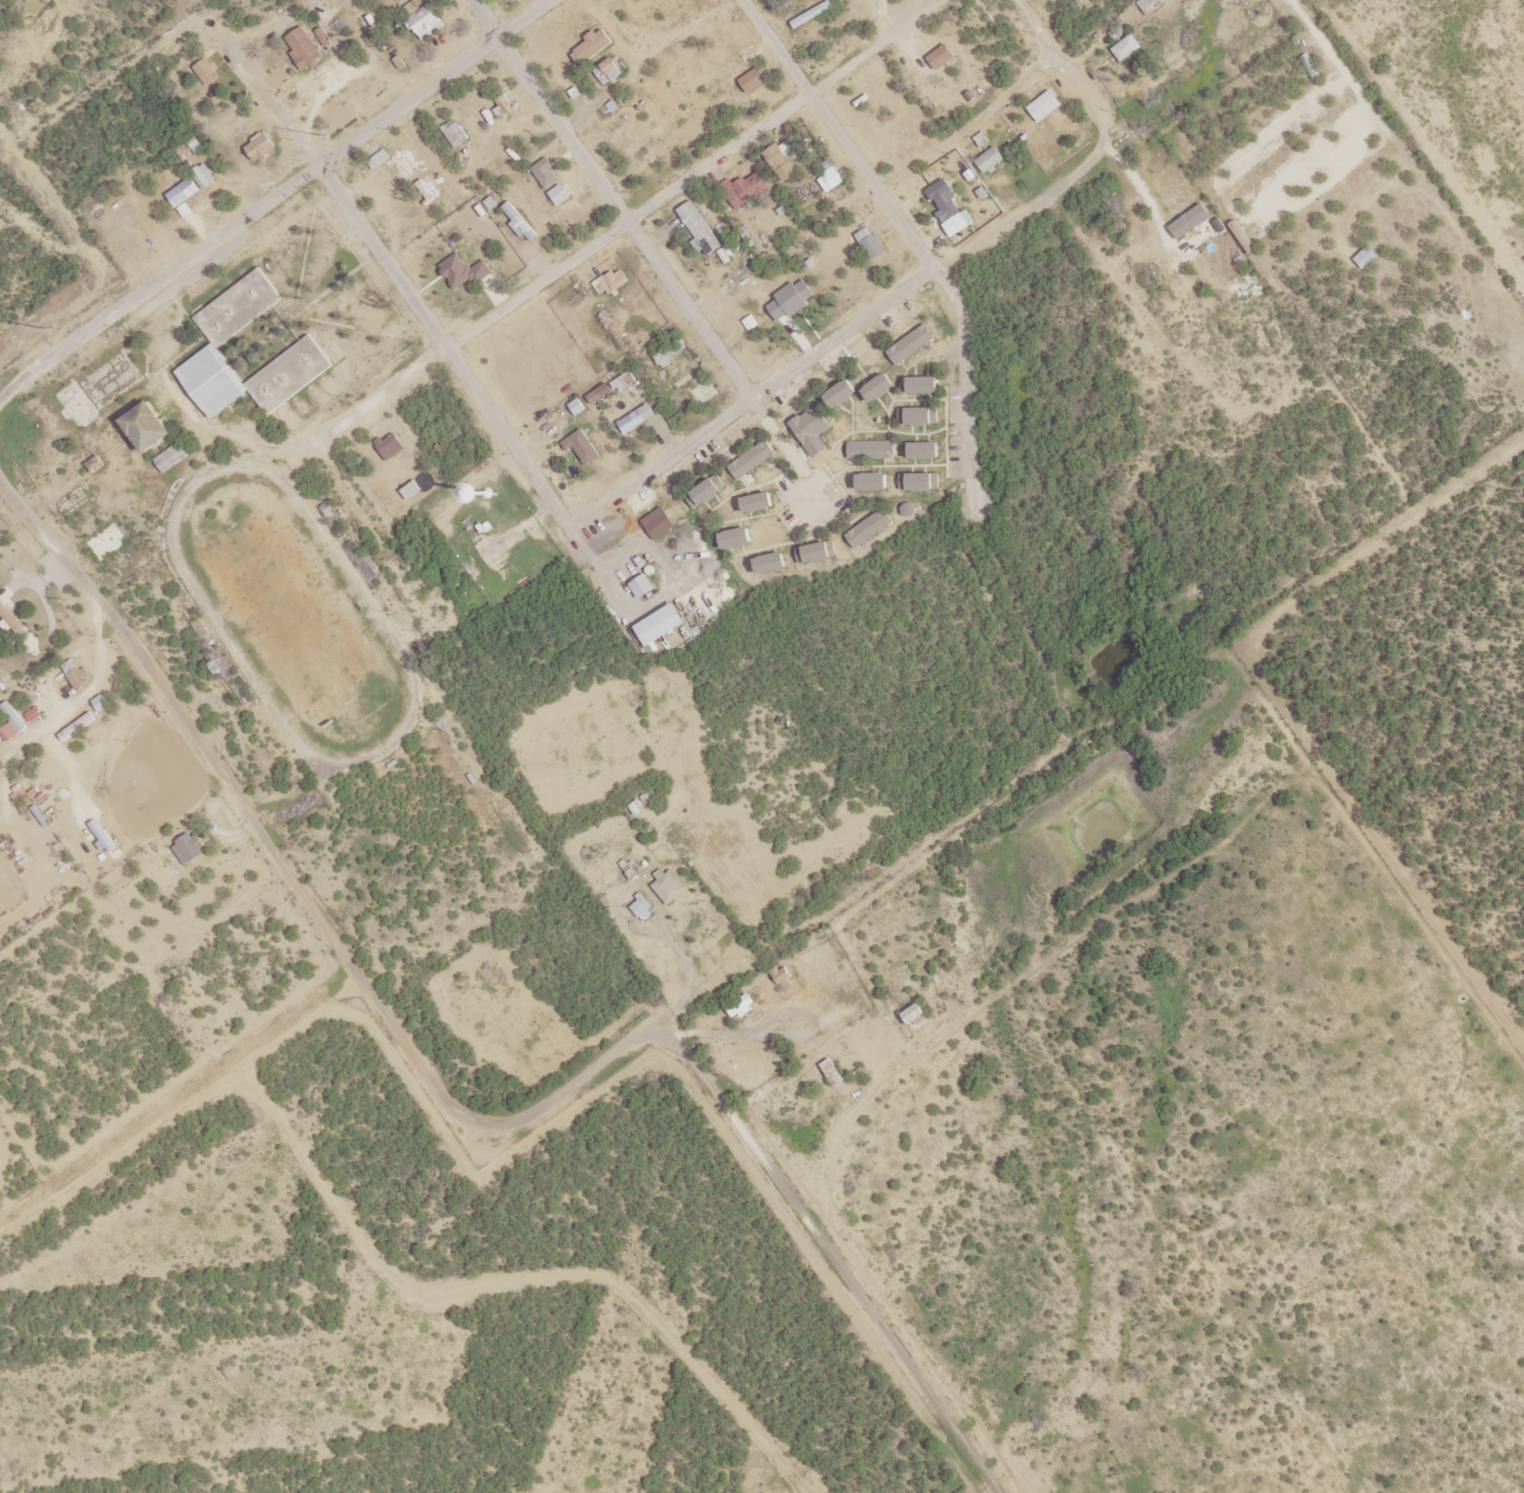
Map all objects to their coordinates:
road: (925, 10)
building: (428, 22)
building: (596, 46)
building: (306, 48)
building: (1128, 48)
road: (1063, 54)
building: (943, 58)
building: (614, 69)
building: (756, 80)
building: (1046, 106)
road: (305, 126)
building: (457, 133)
road: (983, 134)
power tower: (327, 137)
building: (784, 154)
building: (381, 160)
building: (992, 161)
building: (833, 175)
building: (558, 182)
road: (296, 184)
building: (748, 189)
building: (185, 193)
road: (621, 200)
building: (951, 216)
road: (629, 224)
building: (701, 228)
road: (922, 243)
building: (871, 244)
building: (613, 282)
building: (794, 300)
road: (437, 322)
power tower: (52, 330)
building: (913, 345)
road: (780, 384)
building: (216, 385)
building: (927, 386)
building: (883, 388)
building: (707, 393)
building: (844, 395)
building: (921, 417)
building: (639, 419)
building: (154, 427)
building: (814, 432)
road: (781, 443)
building: (392, 447)
building: (583, 447)
building: (874, 451)
building: (927, 452)
building: (174, 459)
building: (755, 460)
building: (875, 483)
building: (921, 483)
building: (712, 491)
building: (762, 504)
building: (660, 523)
building: (871, 530)
building: (739, 539)
building: (775, 564)
building: (644, 587)
track: (293, 614)
building: (77, 674)
building: (102, 704)
building: (79, 727)
building: (192, 847)
road: (295, 873)
building: (670, 886)
building: (644, 907)
road: (789, 949)
building: (744, 1007)
building: (917, 1014)
road: (725, 1096)
road: (181, 1098)

